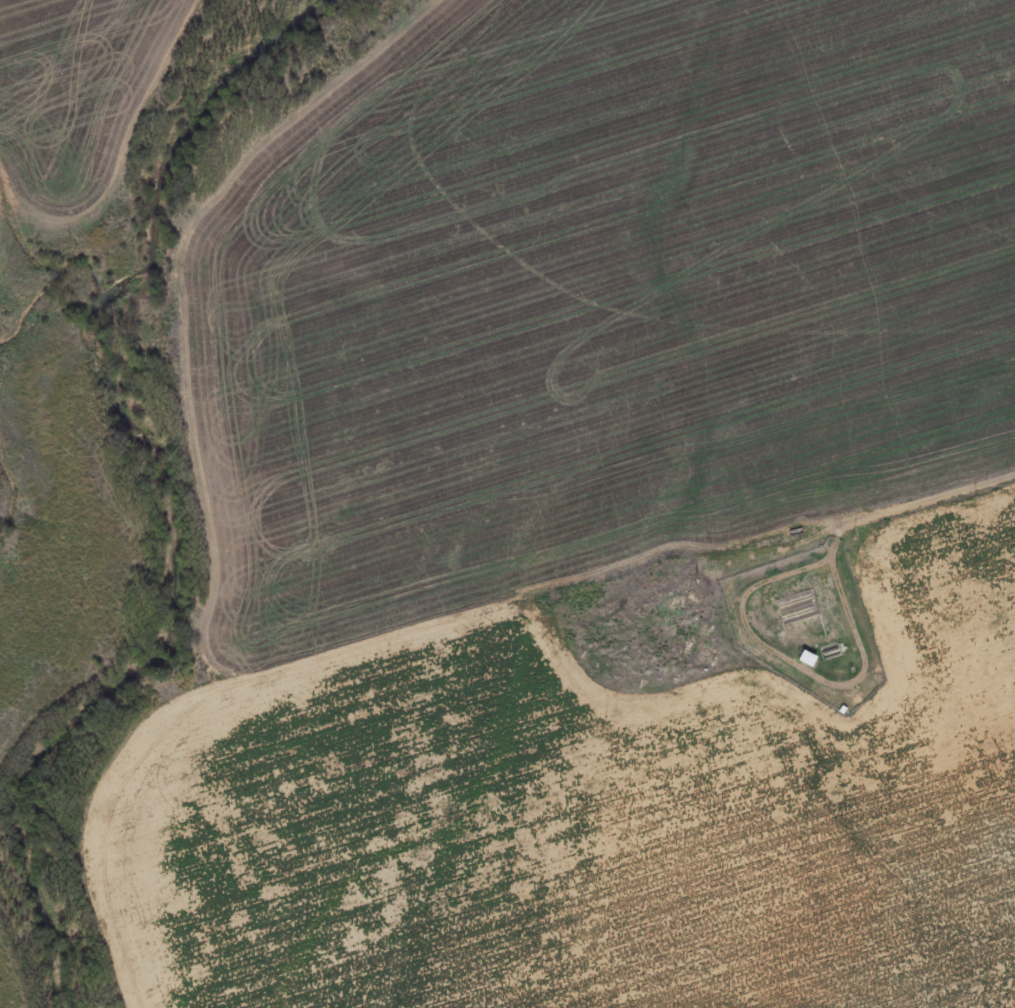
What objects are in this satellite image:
road: (874, 534)
building: (798, 610)

